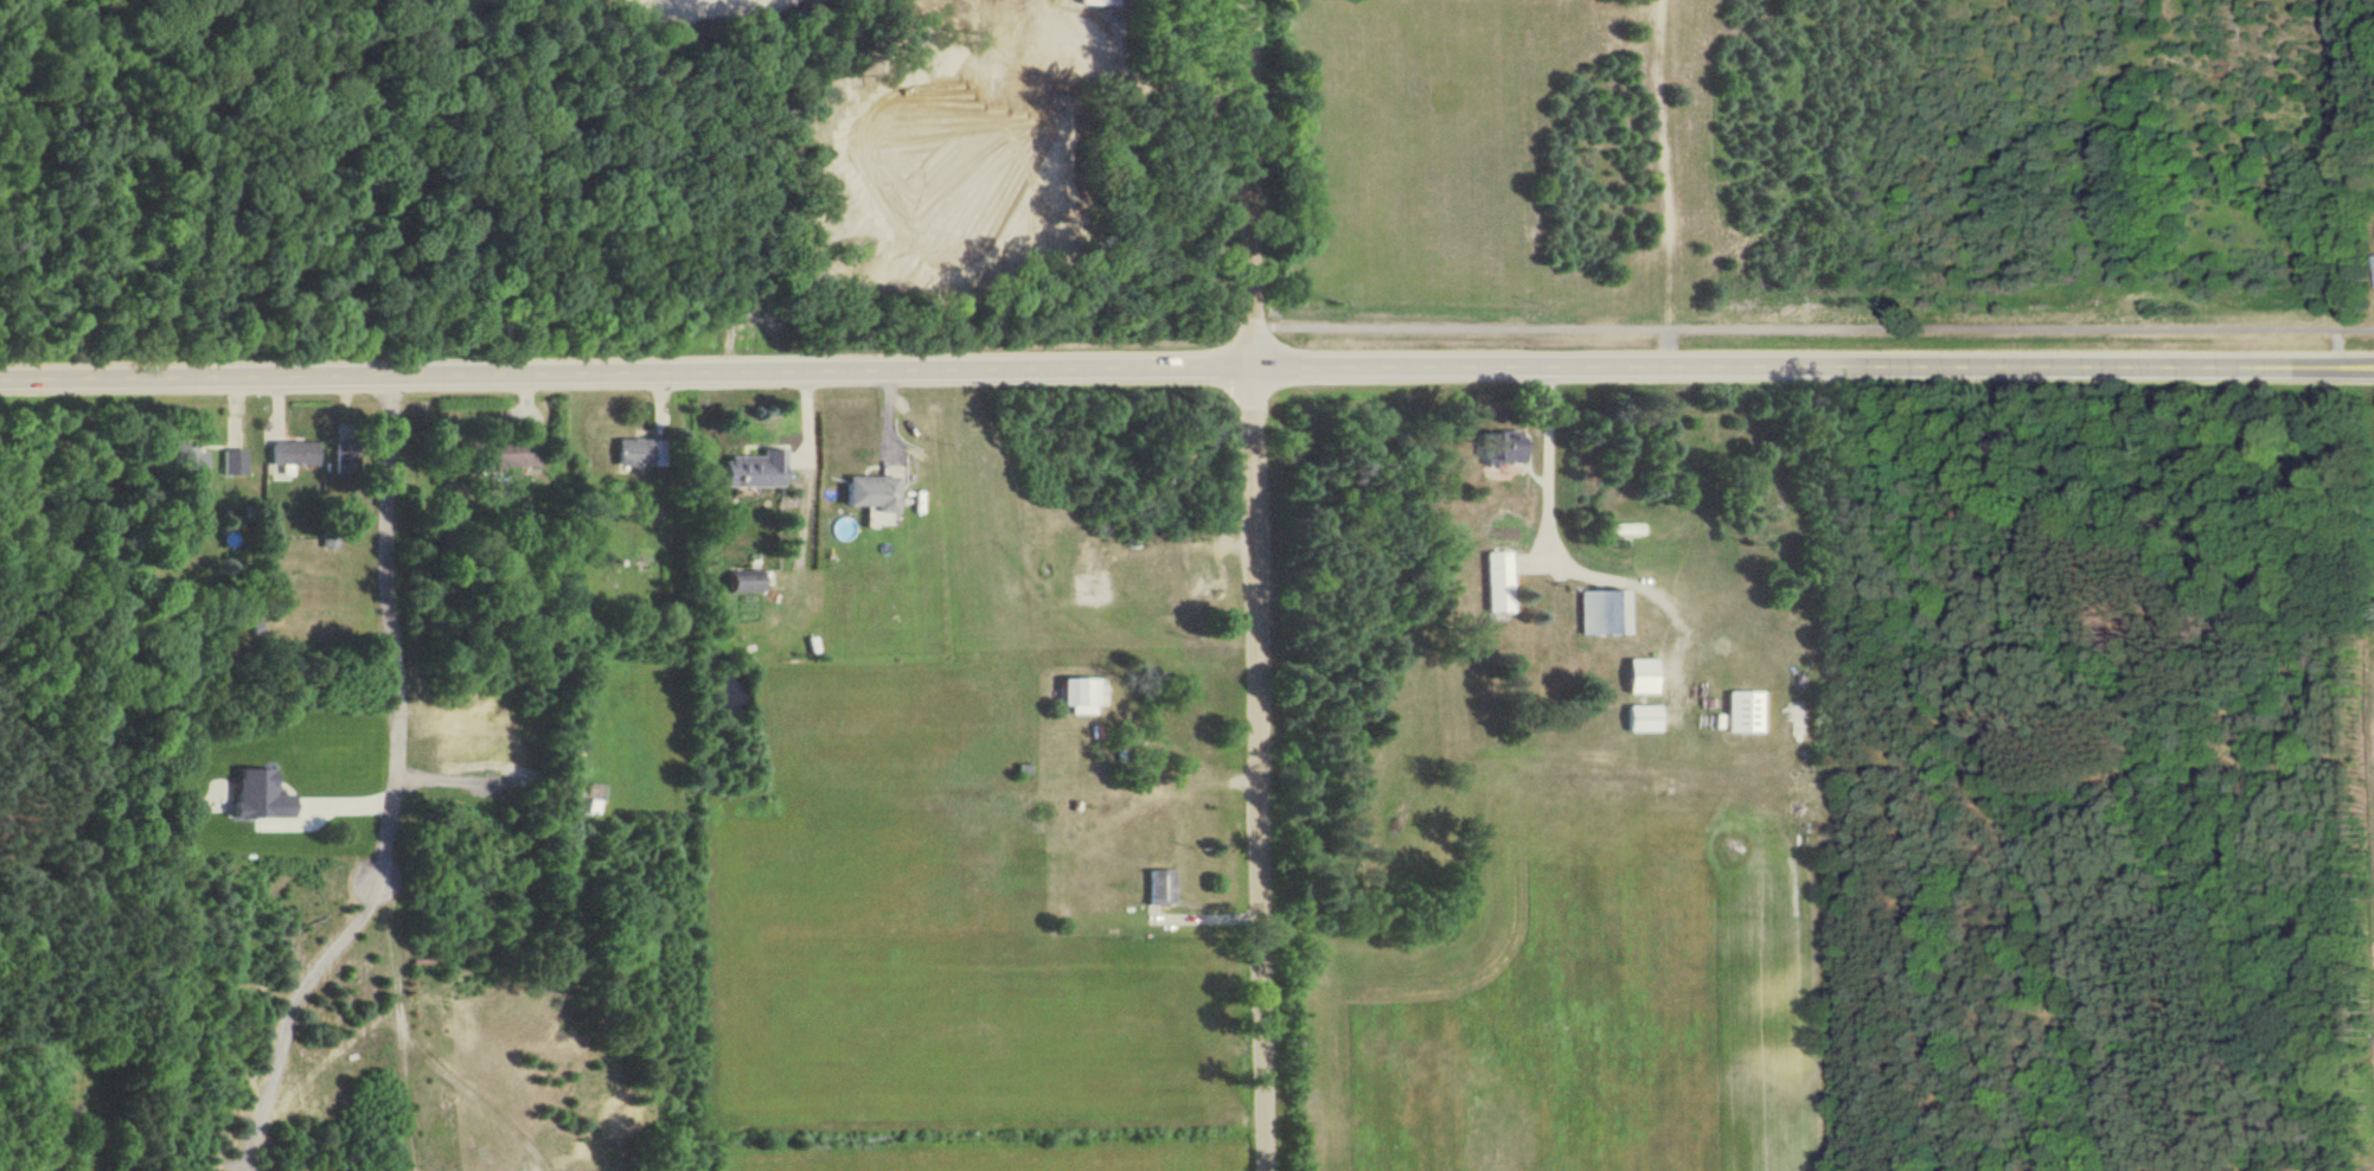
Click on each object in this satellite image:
road: (1817, 322)
road: (1186, 366)
building: (1498, 447)
building: (289, 453)
building: (633, 453)
building: (499, 454)
building: (187, 460)
building: (231, 461)
building: (747, 469)
road: (804, 474)
building: (866, 492)
building: (1621, 527)
road: (1538, 533)
building: (741, 581)
building: (1499, 581)
road: (1260, 585)
building: (1602, 610)
building: (1640, 674)
building: (1080, 693)
building: (1745, 710)
building: (1643, 717)
road: (1180, 757)
road: (481, 781)
road: (393, 786)
building: (256, 795)
building: (1154, 887)

